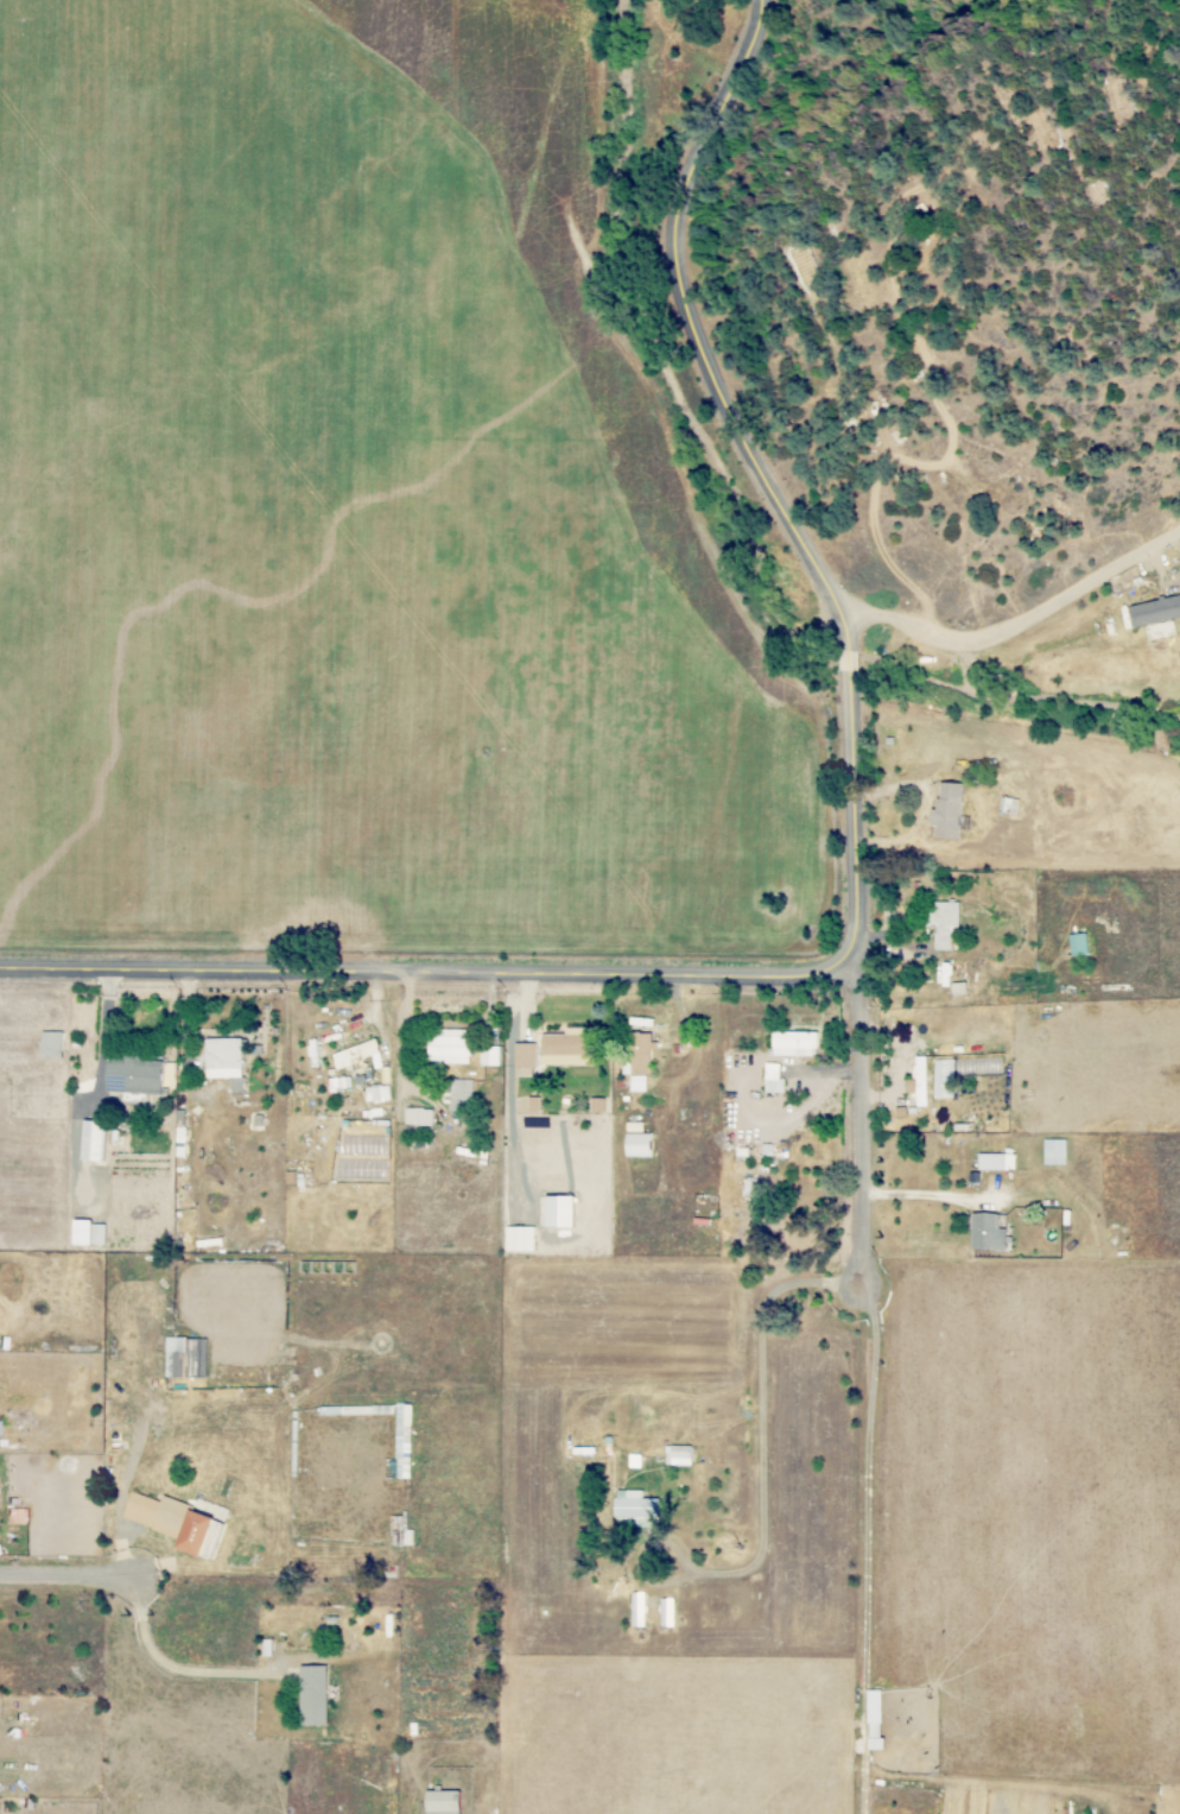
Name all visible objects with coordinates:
road: (699, 336)
building: (1156, 611)
road: (1021, 626)
road: (852, 664)
building: (950, 810)
road: (858, 822)
building: (945, 924)
building: (1079, 944)
road: (430, 971)
building: (944, 973)
building: (794, 1044)
building: (566, 1047)
building: (451, 1048)
building: (355, 1054)
building: (642, 1054)
building: (525, 1055)
building: (490, 1056)
building: (226, 1062)
building: (138, 1076)
building: (773, 1077)
building: (940, 1079)
building: (639, 1083)
building: (376, 1093)
building: (461, 1095)
building: (417, 1117)
building: (94, 1140)
building: (640, 1145)
building: (996, 1162)
building: (563, 1212)
building: (89, 1233)
building: (990, 1233)
building: (520, 1239)
building: (185, 1358)
road: (863, 1392)
road: (751, 1435)
building: (402, 1441)
building: (679, 1455)
building: (637, 1509)
building: (158, 1515)
building: (202, 1535)
road: (66, 1579)
building: (637, 1610)
building: (666, 1613)
building: (313, 1696)
building: (876, 1721)
building: (445, 1802)

